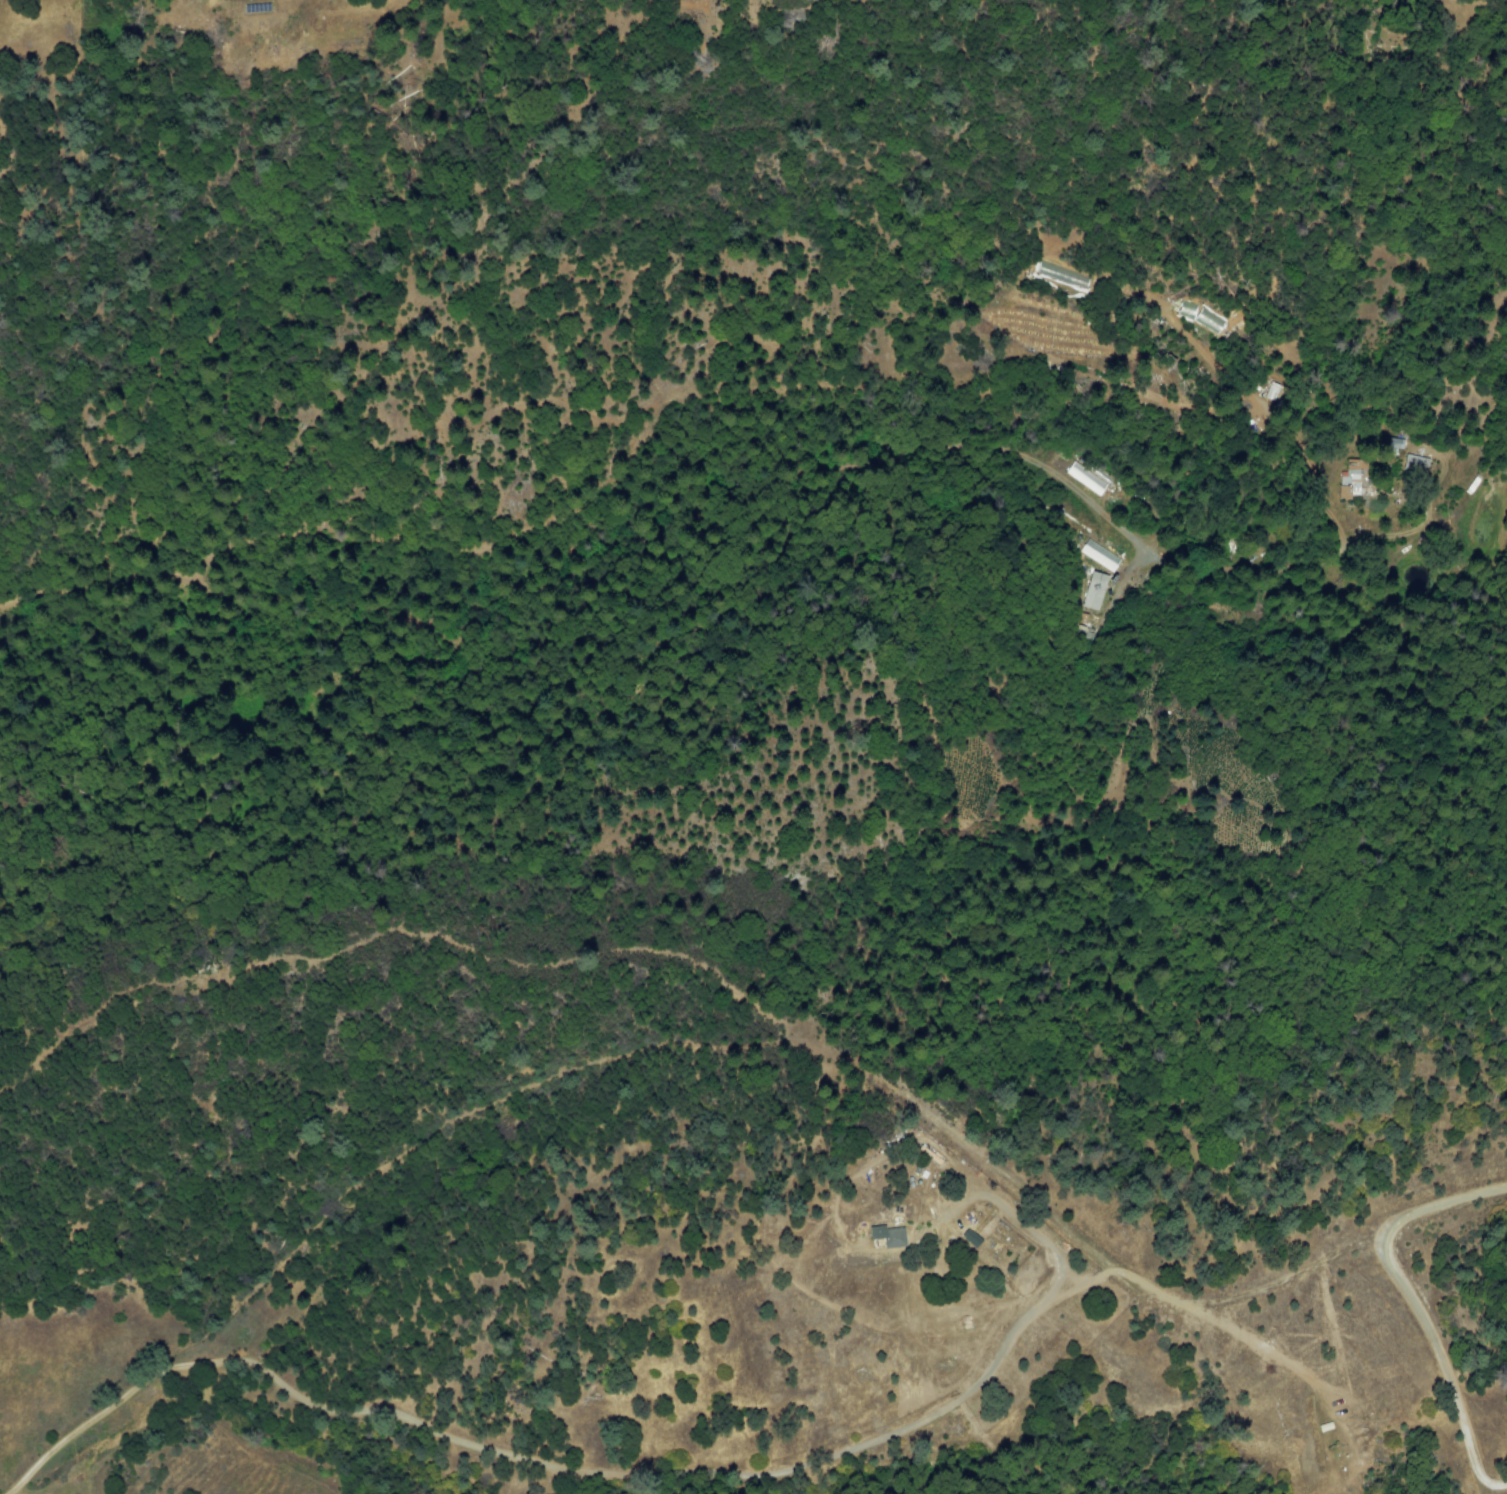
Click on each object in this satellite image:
road: (688, 400)
building: (1416, 462)
building: (1352, 478)
road: (1444, 1202)
building: (893, 1236)
road: (1442, 1365)
road: (610, 1477)

